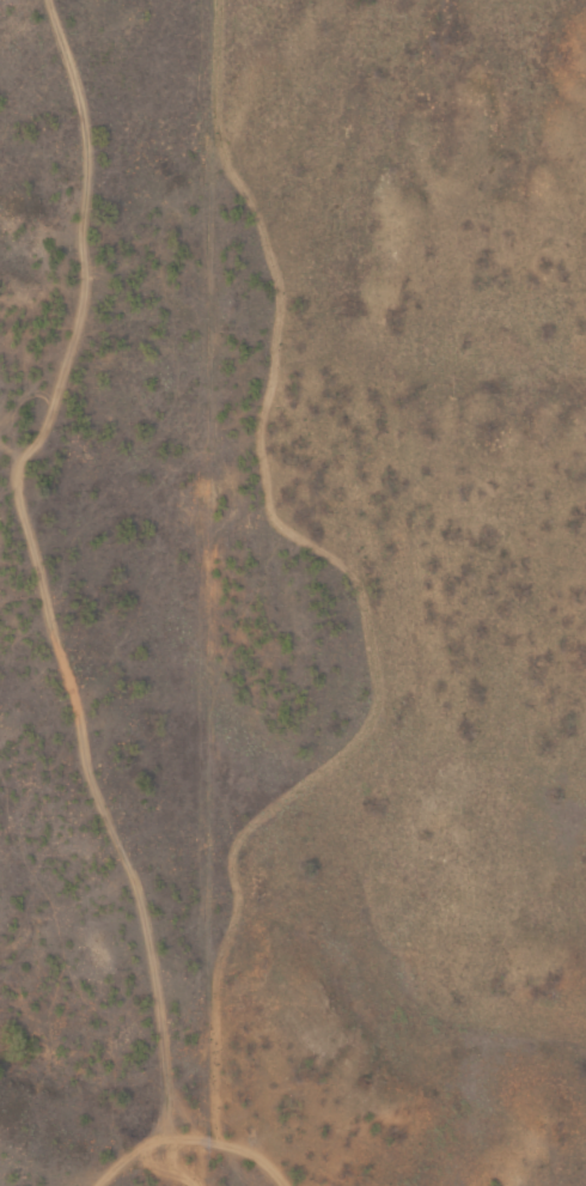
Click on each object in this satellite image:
road: (14, 609)

